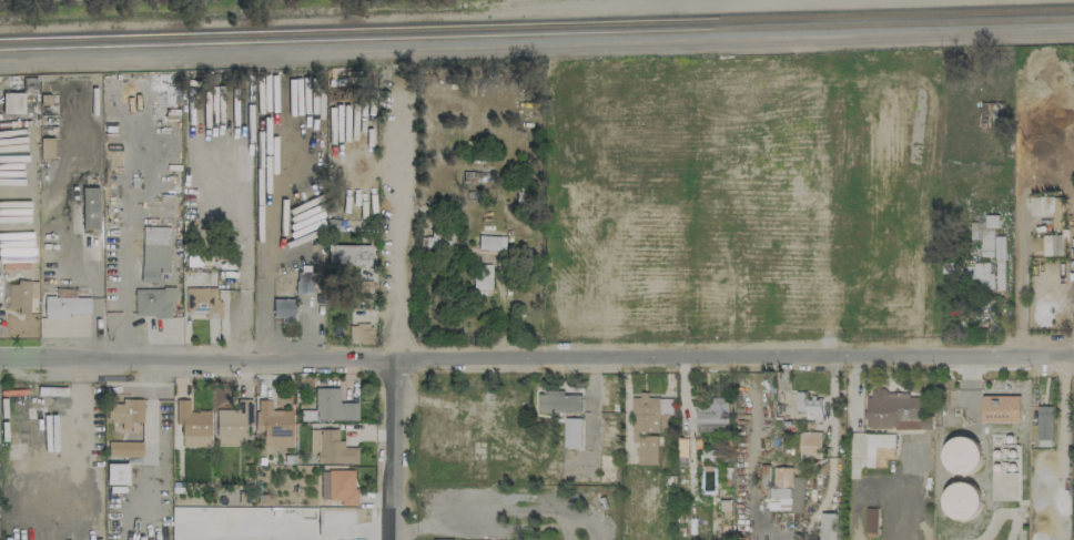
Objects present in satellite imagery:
railway: (536, 23)
railway: (536, 34)
road: (835, 40)
building: (12, 102)
building: (45, 147)
building: (1046, 204)
building: (89, 207)
building: (984, 234)
building: (731, 238)
building: (437, 241)
building: (490, 243)
building: (1052, 245)
building: (154, 252)
building: (351, 254)
road: (243, 261)
building: (999, 263)
building: (979, 275)
building: (482, 278)
building: (306, 283)
building: (896, 284)
building: (151, 302)
building: (203, 302)
building: (64, 306)
building: (283, 308)
road: (392, 315)
road: (537, 360)
building: (807, 404)
building: (330, 407)
road: (830, 408)
building: (1000, 409)
building: (123, 411)
building: (894, 411)
building: (712, 416)
road: (150, 422)
building: (233, 424)
building: (192, 425)
building: (273, 425)
building: (1044, 426)
building: (809, 445)
building: (331, 447)
building: (124, 448)
building: (879, 449)
building: (961, 456)
building: (579, 462)
building: (116, 473)
building: (338, 486)
building: (787, 489)
building: (962, 501)
building: (870, 519)
road: (758, 521)
building: (324, 522)
building: (827, 527)
road: (307, 532)

